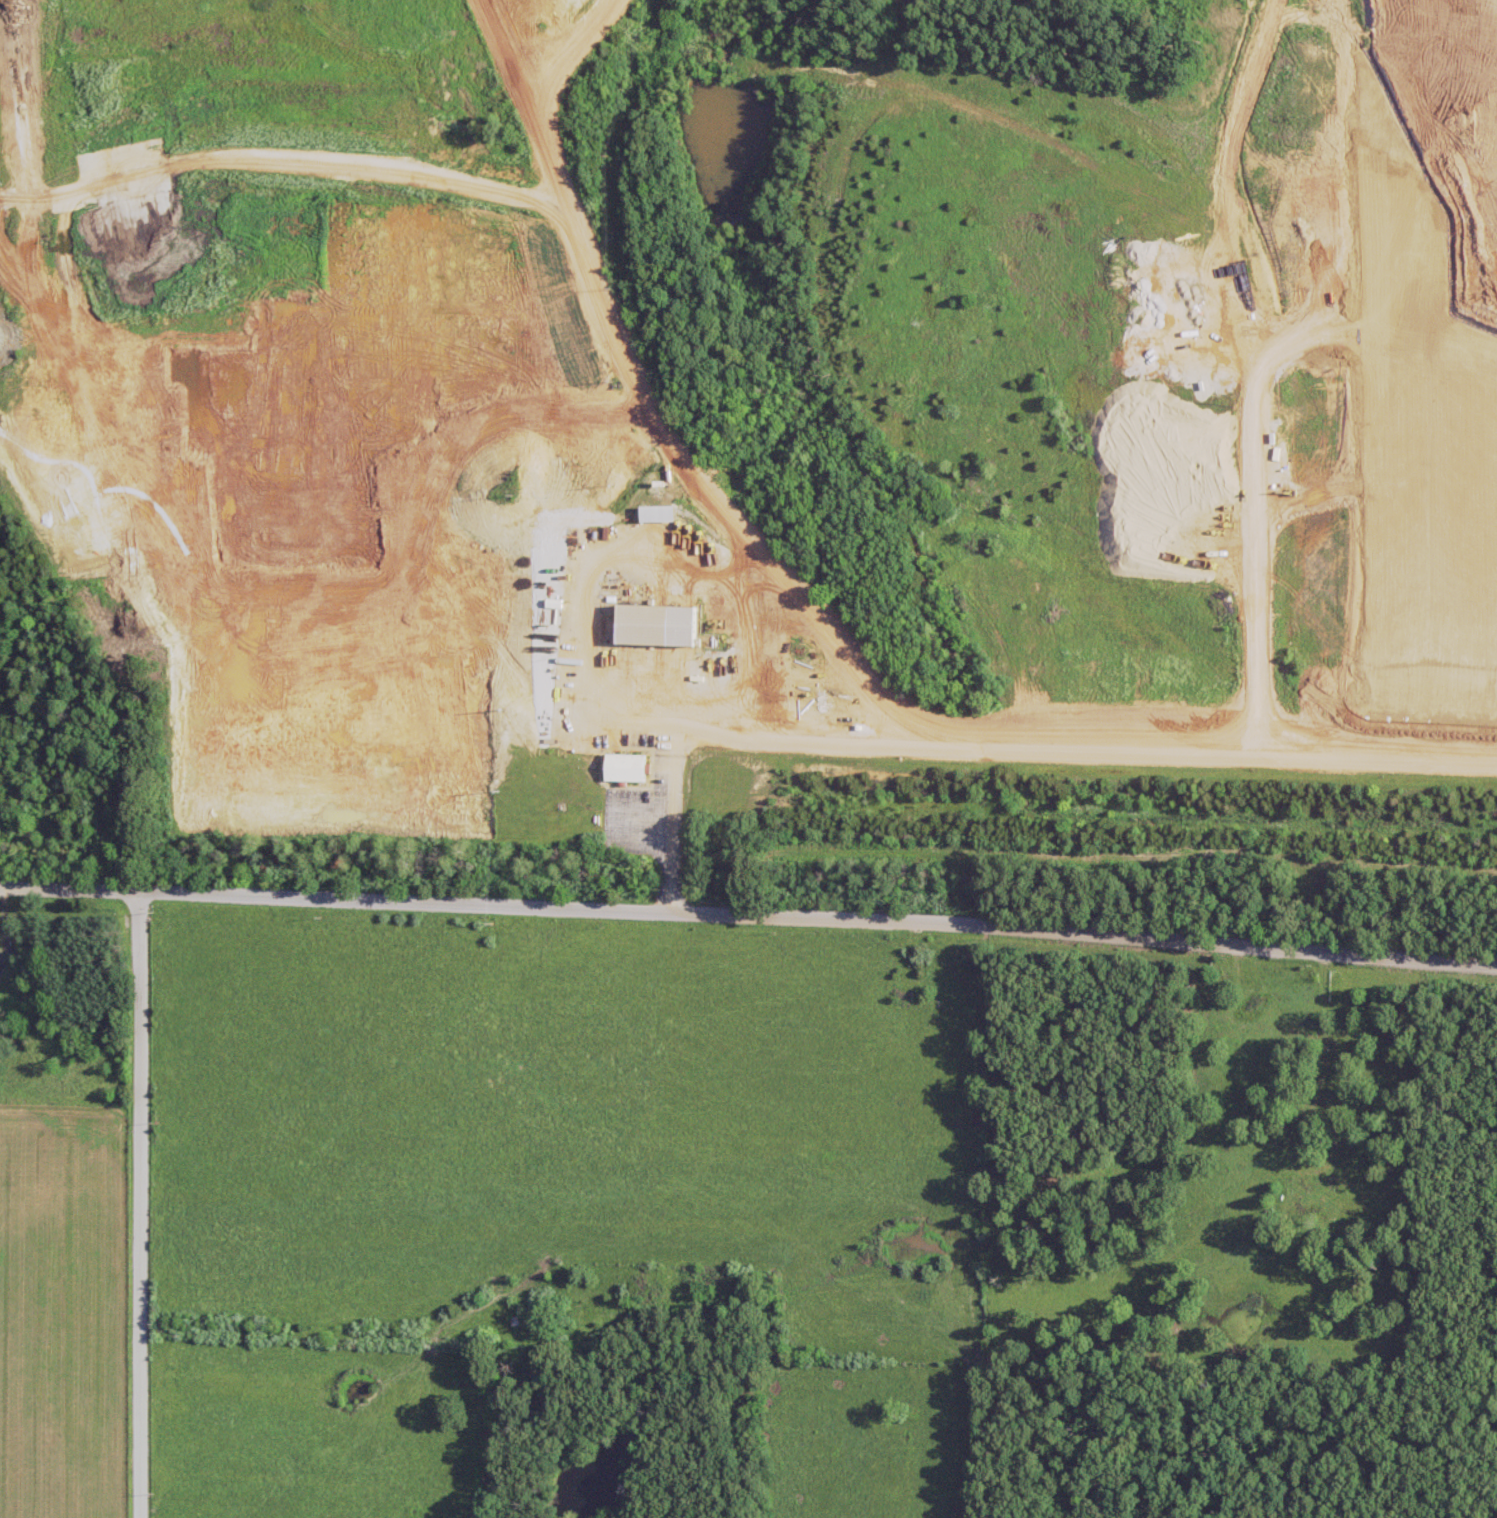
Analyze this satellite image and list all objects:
building: (663, 513)
building: (662, 625)
road: (997, 748)
building: (630, 767)
road: (749, 916)
building: (1250, 1010)
building: (1227, 1199)
road: (138, 1206)
building: (1314, 1206)

